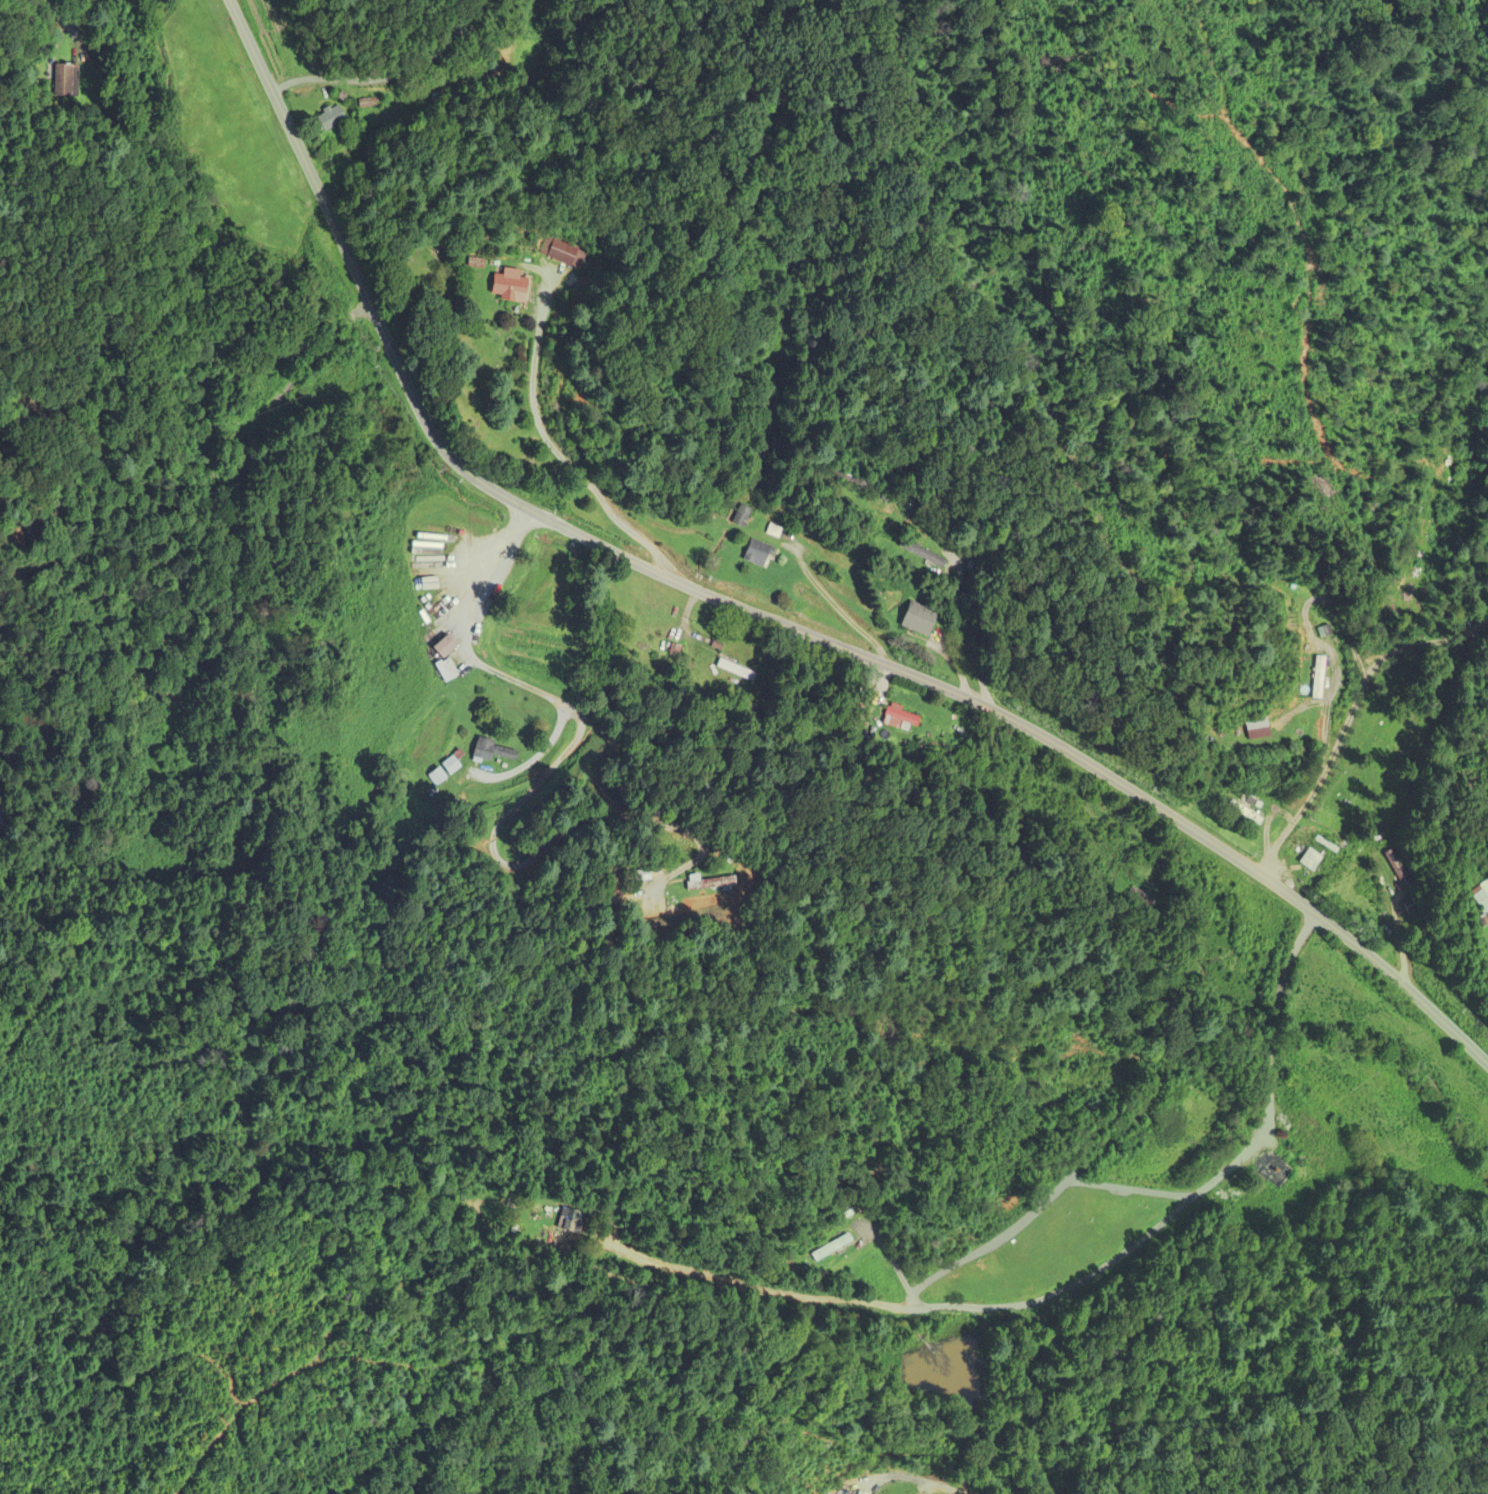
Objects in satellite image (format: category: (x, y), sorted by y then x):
road: (390, 75)
building: (69, 81)
building: (445, 98)
building: (333, 119)
building: (561, 253)
building: (513, 288)
building: (1484, 431)
road: (561, 455)
building: (855, 478)
building: (744, 516)
building: (760, 554)
building: (925, 554)
road: (845, 610)
road: (762, 616)
building: (922, 620)
road: (1380, 627)
road: (963, 633)
road: (1427, 641)
building: (448, 660)
building: (738, 671)
building: (1322, 678)
building: (904, 719)
building: (1264, 731)
building: (1378, 748)
road: (538, 749)
building: (491, 751)
road: (560, 754)
building: (451, 765)
building: (435, 777)
building: (1246, 812)
building: (1310, 860)
building: (1397, 866)
building: (644, 876)
building: (710, 883)
building: (1482, 896)
building: (1142, 902)
building: (1278, 1170)
building: (849, 1210)
building: (575, 1222)
building: (837, 1249)
road: (890, 1257)
road: (1064, 1290)
road: (921, 1479)

